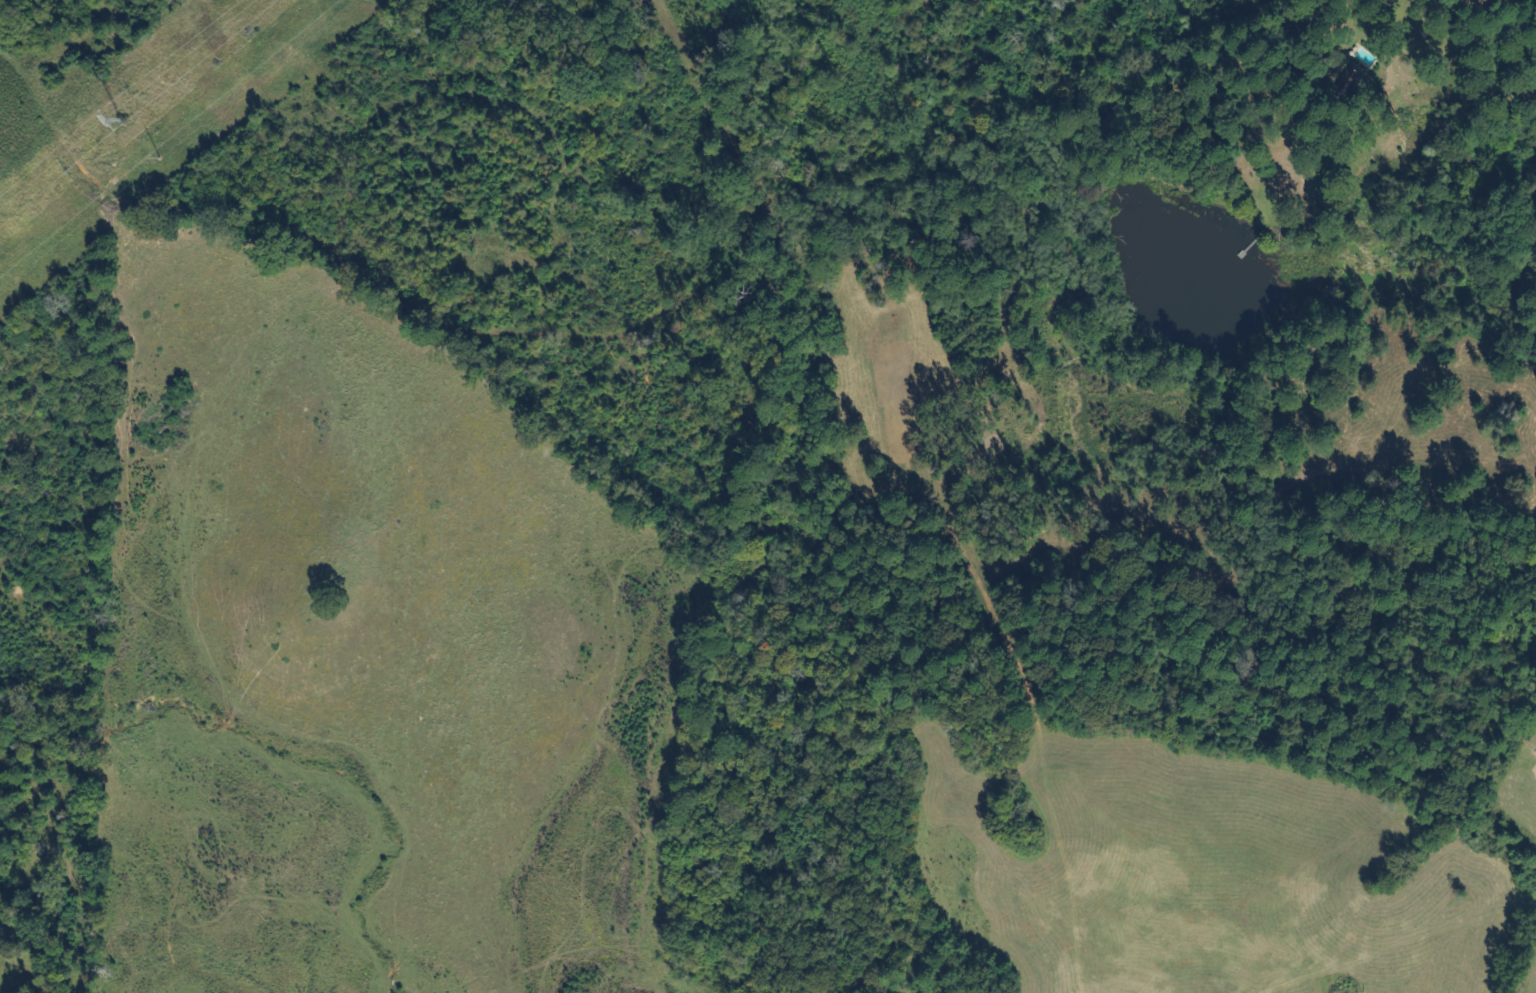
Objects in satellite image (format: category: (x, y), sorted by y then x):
power tower: (120, 120)
road: (644, 307)

